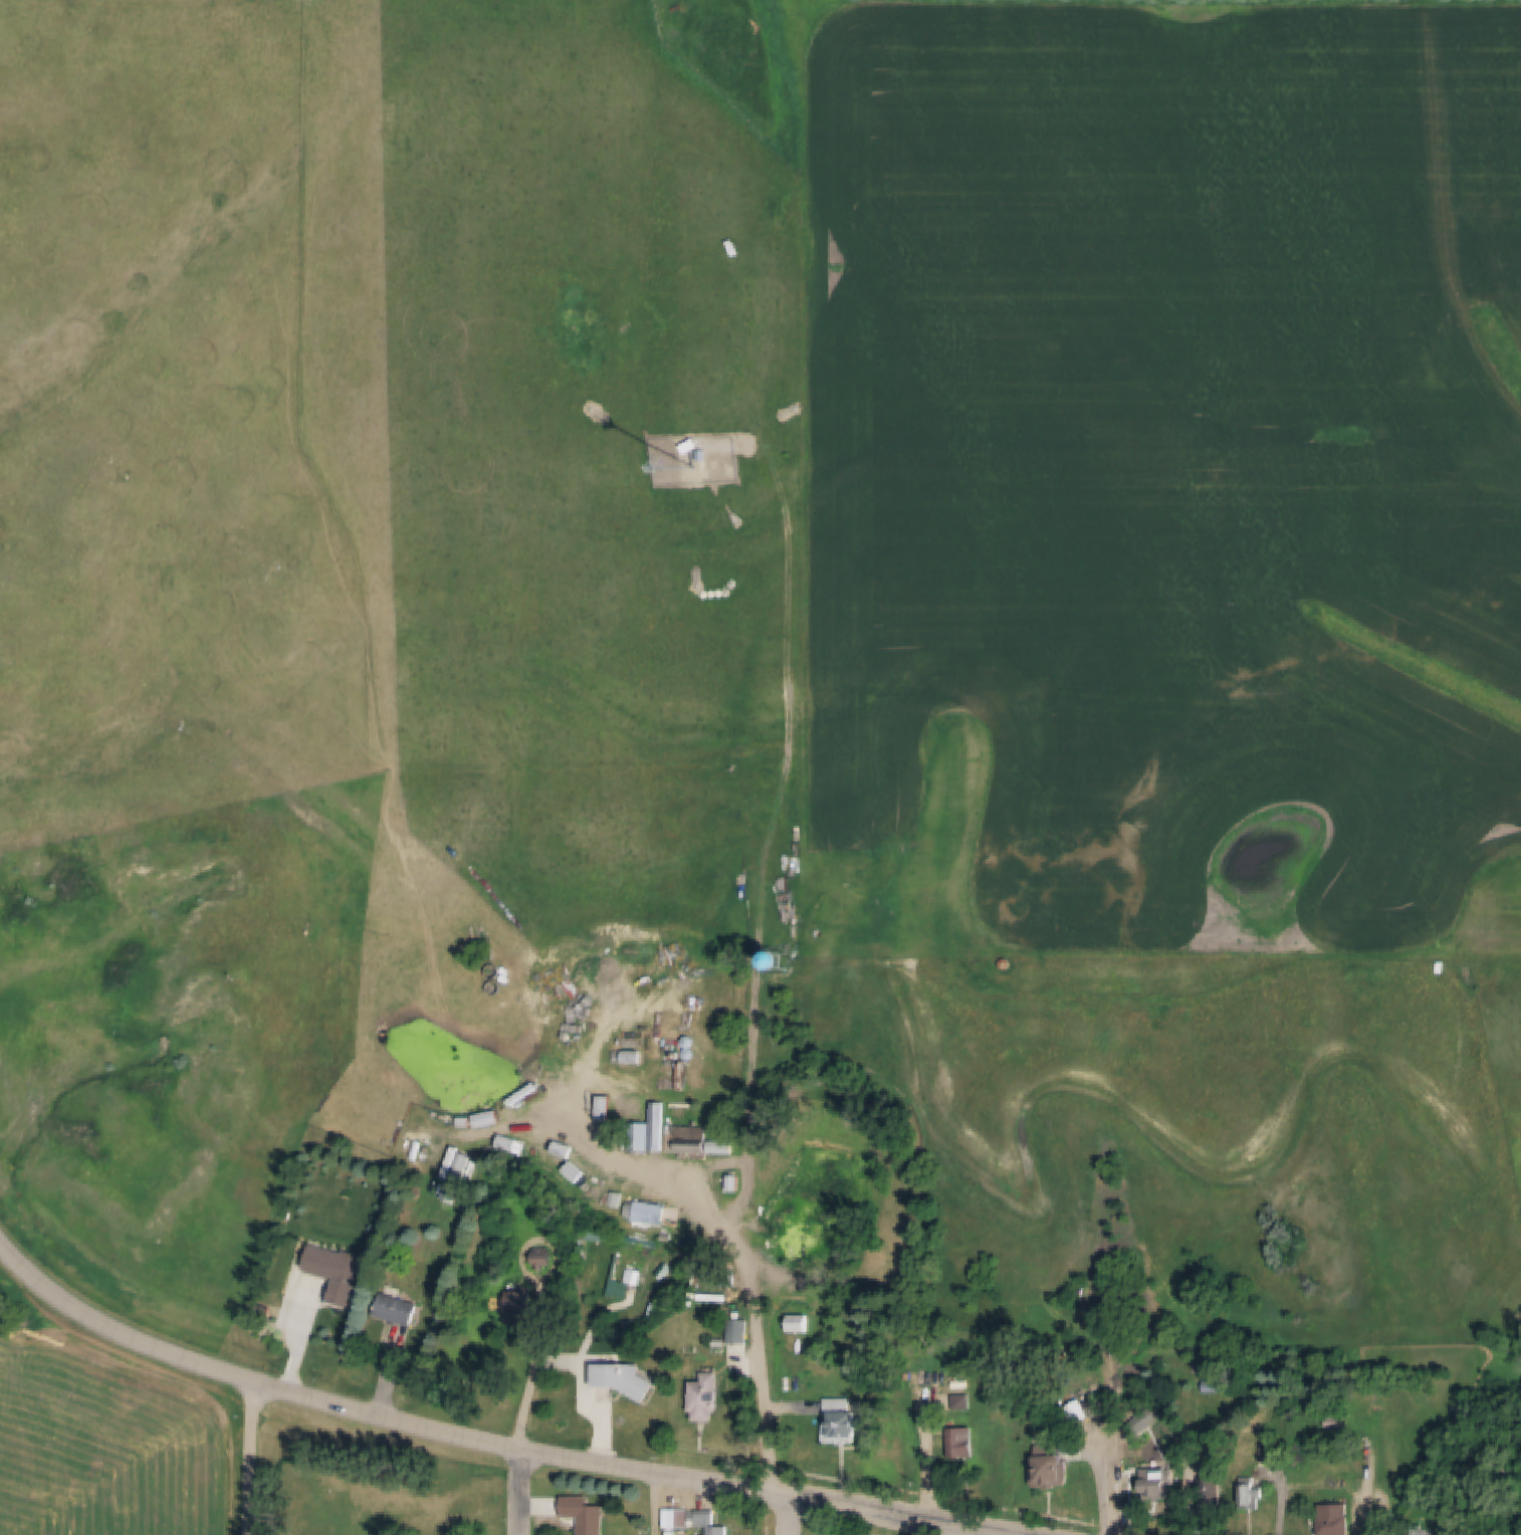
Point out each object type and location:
building: (695, 447)
building: (705, 455)
water tower: (784, 961)
building: (671, 1065)
building: (683, 1075)
building: (678, 1093)
building: (626, 1104)
silo: (626, 1104)
building: (630, 1116)
silo: (630, 1116)
building: (616, 1125)
building: (660, 1126)
building: (699, 1141)
building: (739, 1182)
building: (458, 1191)
building: (655, 1213)
building: (598, 1235)
building: (546, 1258)
building: (634, 1276)
building: (351, 1277)
building: (732, 1278)
building: (525, 1307)
building: (401, 1309)
road: (317, 1319)
building: (800, 1324)
building: (741, 1330)
building: (631, 1379)
road: (538, 1383)
building: (1216, 1387)
building: (713, 1398)
building: (965, 1403)
building: (1134, 1408)
building: (843, 1421)
building: (1336, 1423)
road: (482, 1442)
building: (964, 1443)
building: (1272, 1452)
road: (253, 1460)
building: (1061, 1469)
building: (1162, 1479)
road: (1325, 1487)
road: (522, 1492)
building: (1253, 1493)
building: (1216, 1494)
road: (649, 1503)
building: (588, 1514)
road: (789, 1515)
building: (1337, 1520)
building: (712, 1523)

